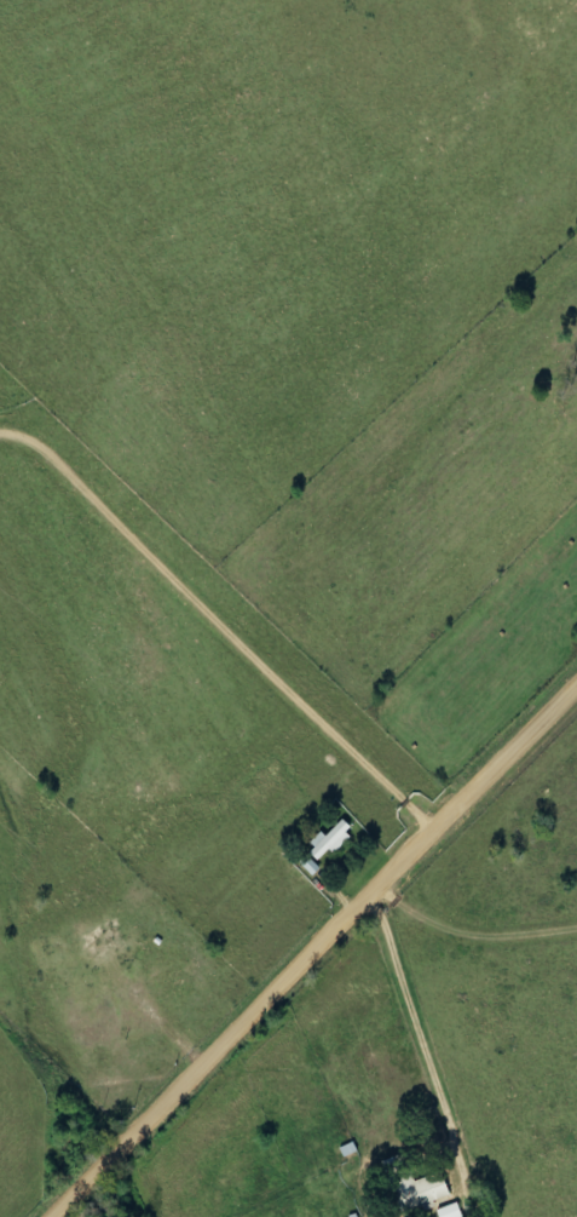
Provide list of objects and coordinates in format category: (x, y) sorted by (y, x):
road: (219, 618)
road: (307, 945)
building: (114, 957)
road: (414, 1022)
building: (416, 1186)
building: (451, 1211)

